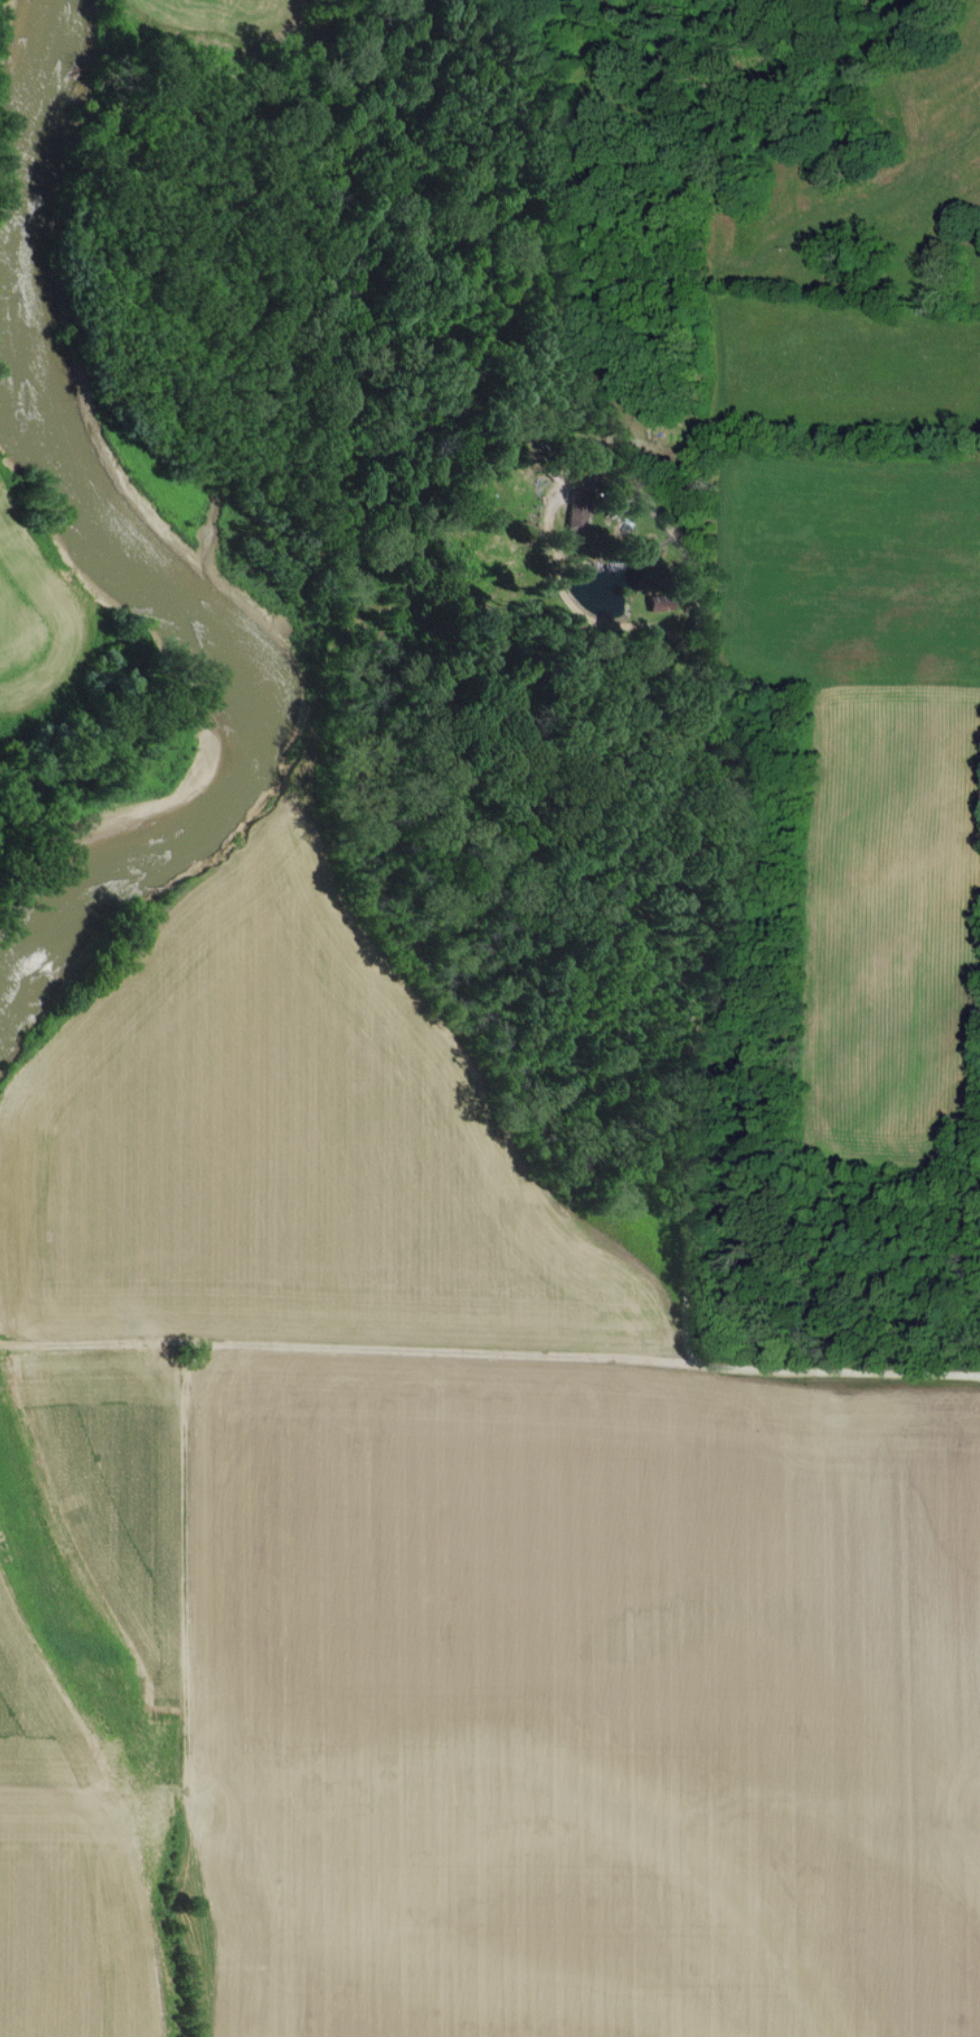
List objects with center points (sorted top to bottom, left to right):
river: (187, 581)
road: (583, 1363)
road: (174, 1736)

